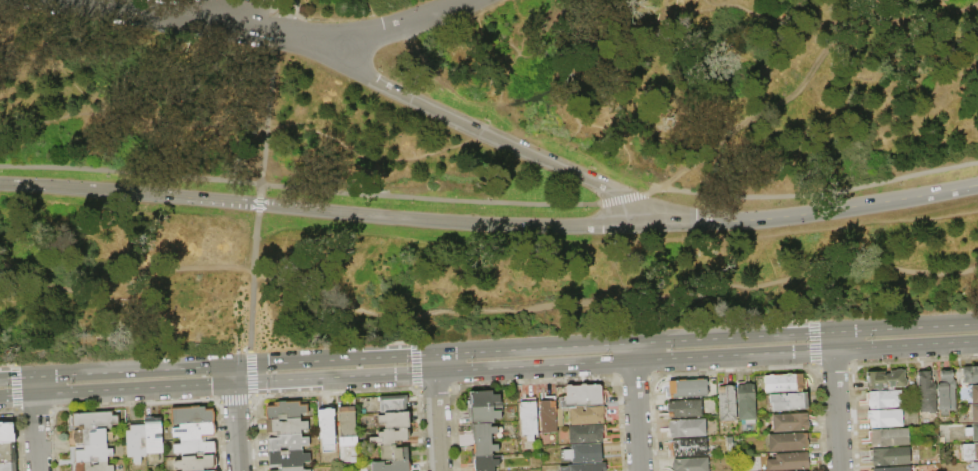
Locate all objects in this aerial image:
road: (463, 1)
road: (370, 7)
road: (798, 9)
road: (896, 9)
road: (216, 18)
road: (454, 21)
road: (876, 21)
road: (385, 28)
road: (393, 28)
road: (403, 43)
road: (943, 44)
road: (575, 59)
road: (789, 91)
road: (272, 101)
road: (135, 118)
road: (502, 140)
road: (717, 150)
road: (570, 151)
park: (475, 170)
road: (298, 189)
road: (129, 191)
road: (817, 198)
road: (622, 199)
road: (618, 225)
road: (616, 242)
road: (789, 268)
road: (624, 269)
road: (124, 276)
road: (251, 285)
road: (614, 297)
road: (832, 341)
road: (488, 349)
road: (632, 352)
traffic signals: (266, 362)
road: (433, 363)
road: (489, 370)
road: (233, 374)
building: (970, 374)
building: (885, 379)
building: (783, 384)
road: (32, 385)
traffic signals: (209, 387)
building: (685, 389)
building: (945, 391)
building: (926, 392)
building: (974, 394)
building: (581, 395)
building: (482, 399)
building: (882, 399)
building: (745, 400)
building: (725, 401)
building: (787, 401)
building: (393, 403)
traffic signals: (235, 405)
building: (285, 409)
building: (682, 409)
road: (836, 411)
building: (974, 413)
building: (191, 414)
building: (483, 414)
building: (549, 414)
building: (586, 415)
road: (635, 416)
building: (883, 418)
building: (395, 419)
building: (528, 419)
building: (92, 420)
building: (326, 421)
road: (436, 422)
building: (788, 422)
building: (285, 426)
road: (236, 427)
building: (684, 428)
building: (347, 429)
building: (194, 430)
building: (480, 431)
building: (7, 432)
building: (972, 432)
road: (34, 433)
building: (585, 433)
building: (153, 434)
building: (390, 436)
building: (89, 437)
building: (887, 437)
building: (136, 441)
building: (287, 441)
building: (786, 442)
building: (194, 446)
building: (481, 447)
building: (688, 447)
building: (395, 451)
building: (970, 451)
building: (7, 452)
building: (89, 453)
building: (583, 453)
building: (888, 456)
building: (287, 457)
building: (789, 462)
building: (196, 463)
building: (483, 463)
building: (689, 464)
building: (391, 465)
building: (8, 466)
building: (93, 466)
building: (975, 466)
building: (584, 467)
building: (72, 468)
building: (288, 468)
building: (892, 468)
building: (666, 469)
building: (801, 470)

